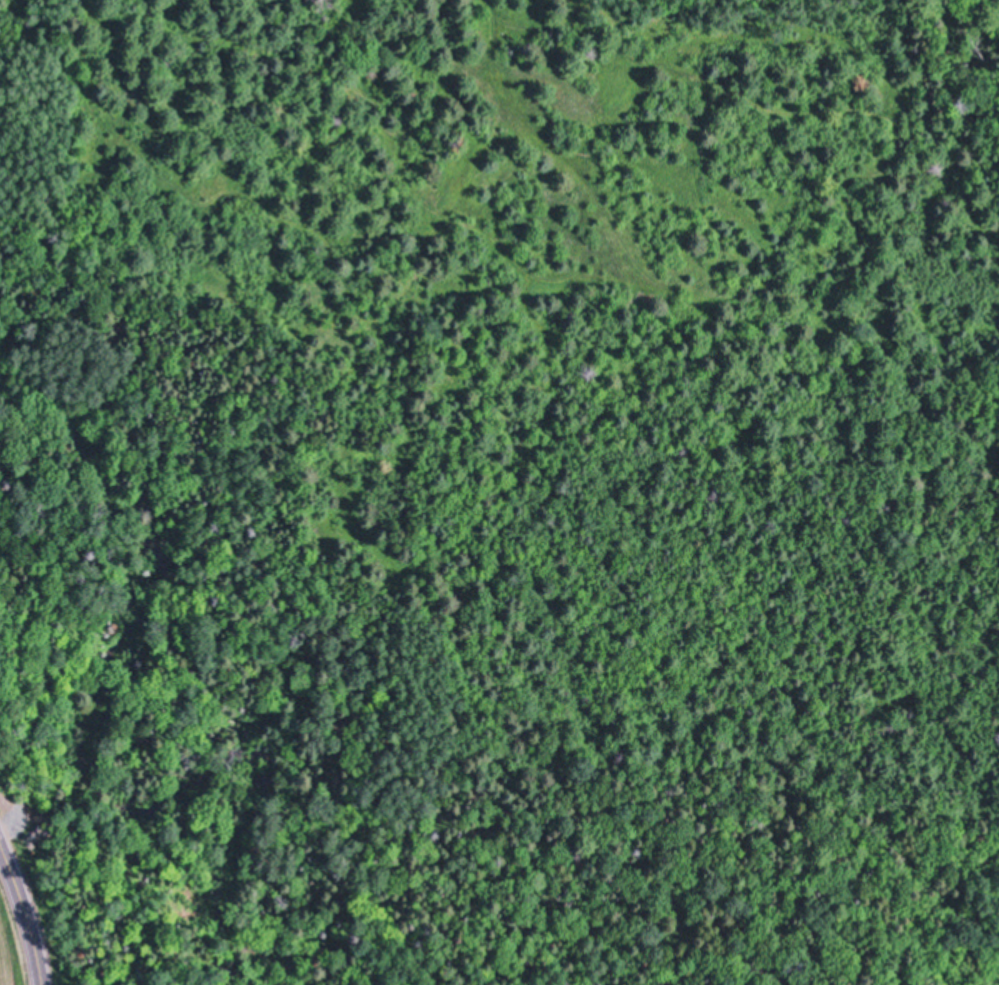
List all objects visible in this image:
road: (24, 911)

